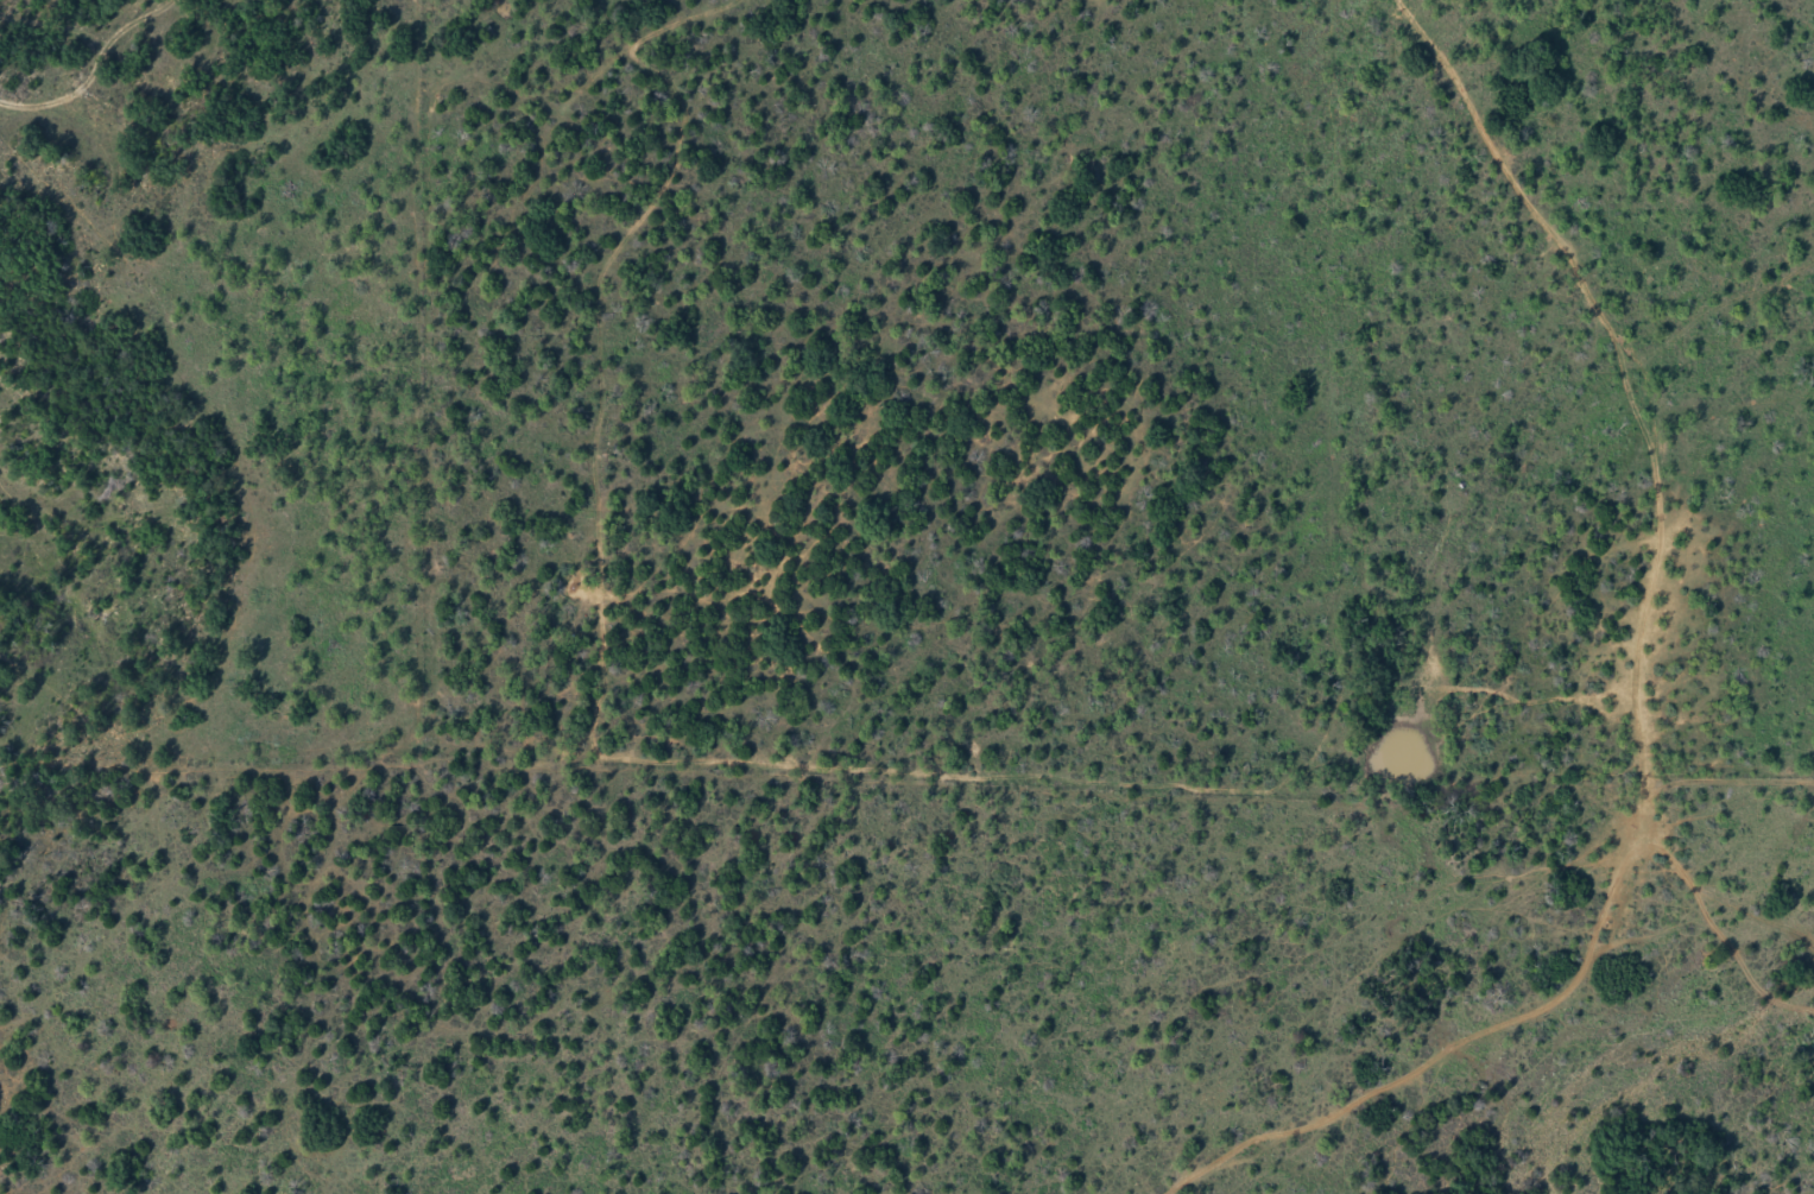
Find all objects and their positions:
road: (1517, 1036)

